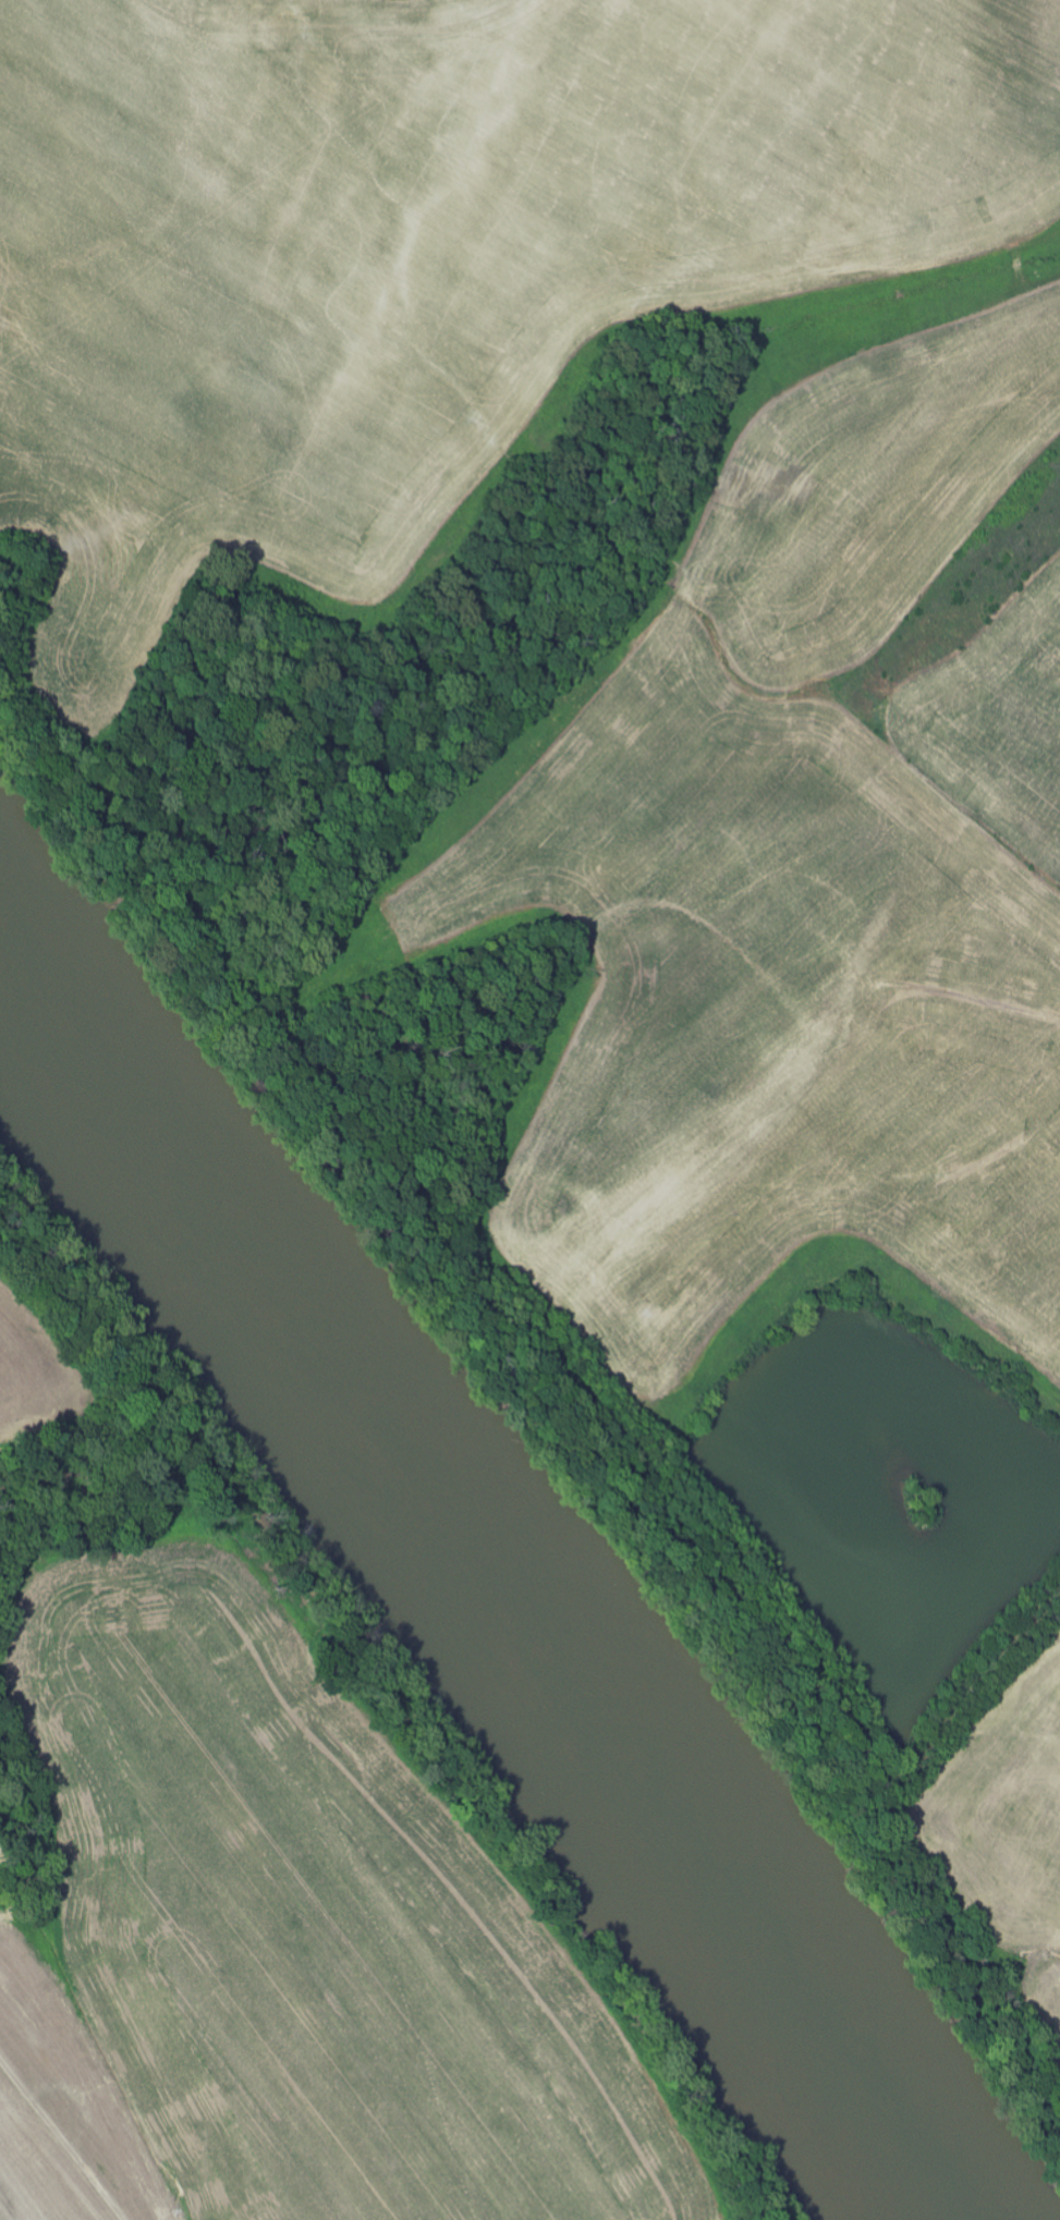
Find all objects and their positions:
river: (497, 1573)

